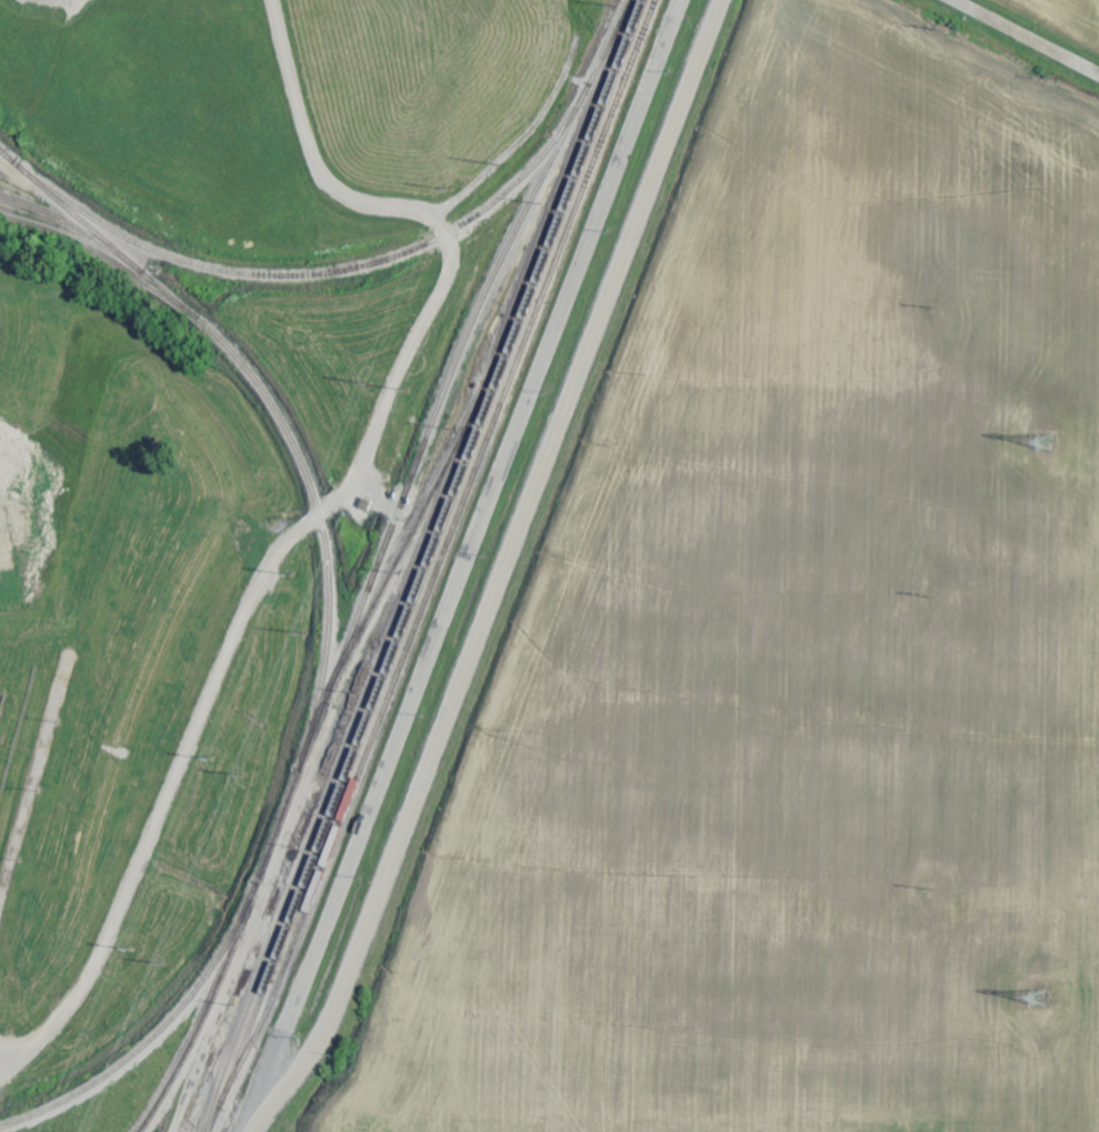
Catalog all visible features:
road: (1026, 37)
railway: (551, 206)
railway: (118, 251)
railway: (316, 277)
railway: (272, 404)
road: (503, 573)
railway: (298, 767)
railway: (340, 770)
railway: (124, 1055)

